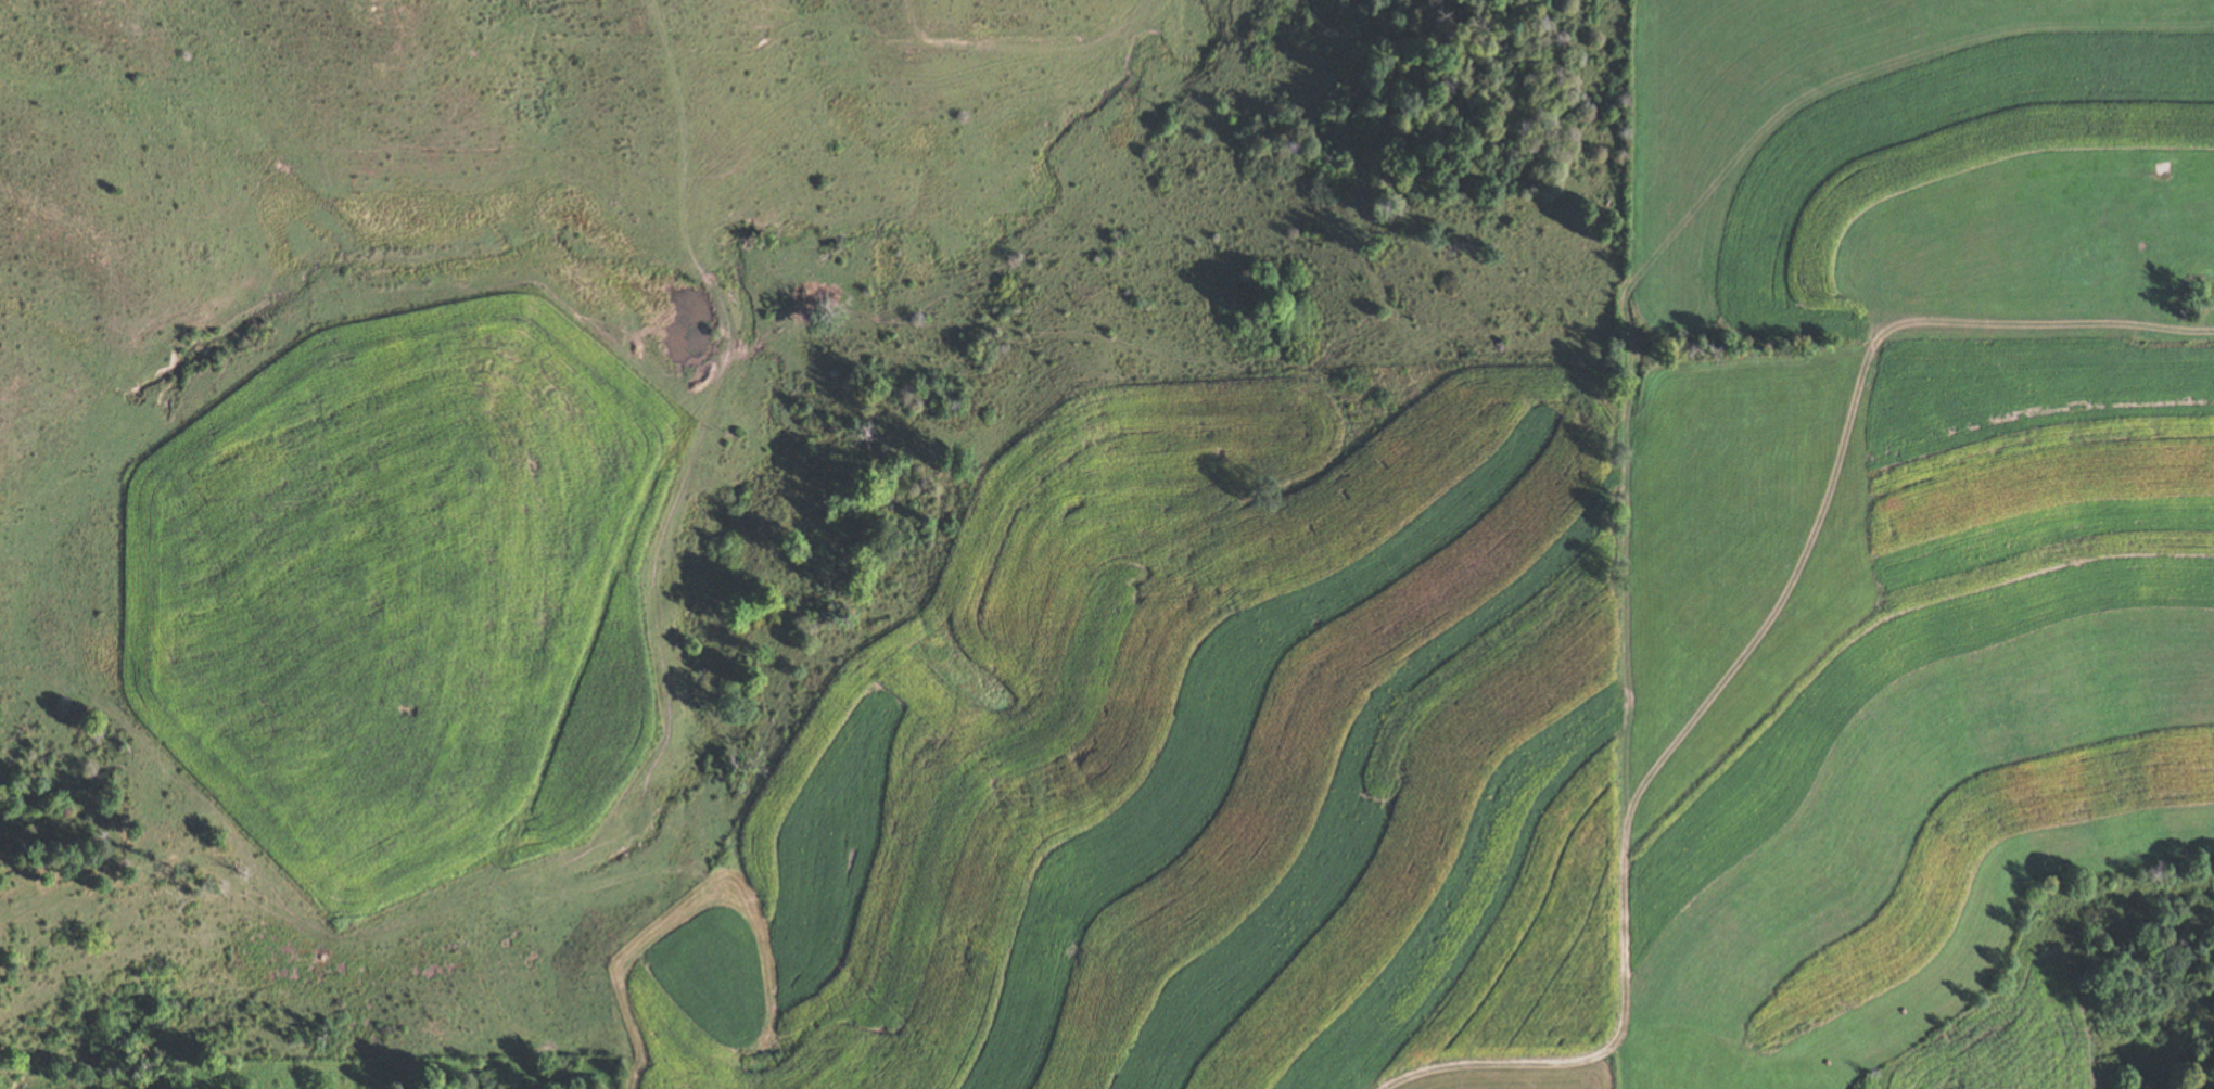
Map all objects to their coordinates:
crop: (1917, 168)
crop: (1898, 664)
road: (428, 783)
crop: (1713, 1063)
crop: (1110, 1078)

